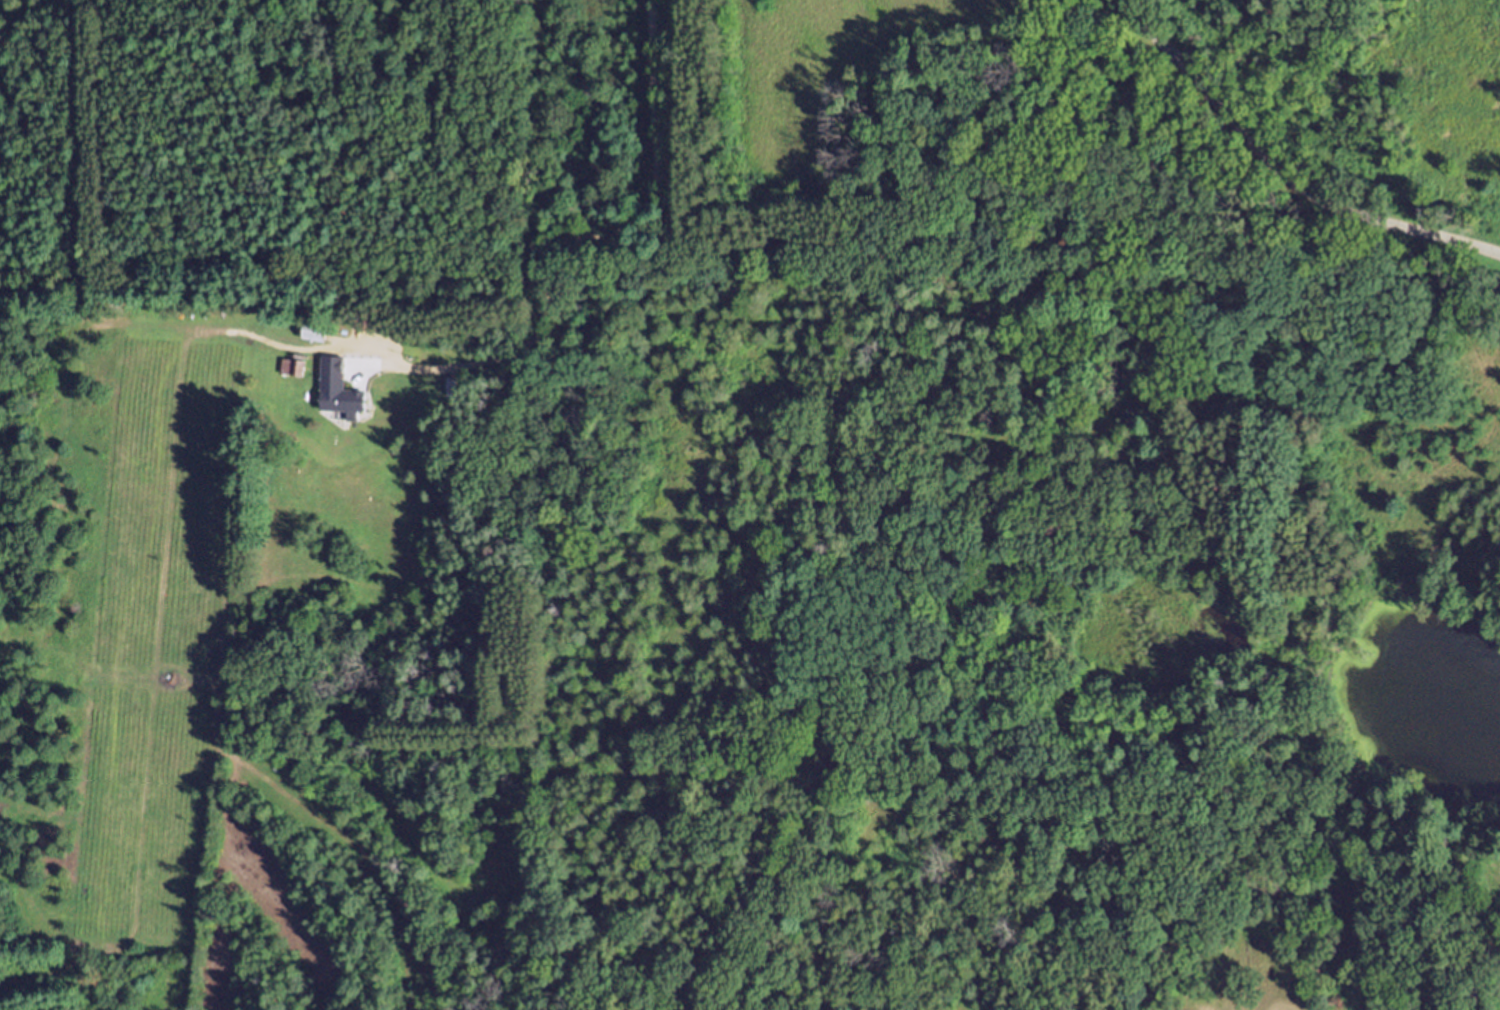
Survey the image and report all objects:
road: (1326, 30)
crop: (810, 70)
road: (654, 89)
road: (1281, 173)
road: (547, 316)
building: (321, 335)
building: (351, 404)

